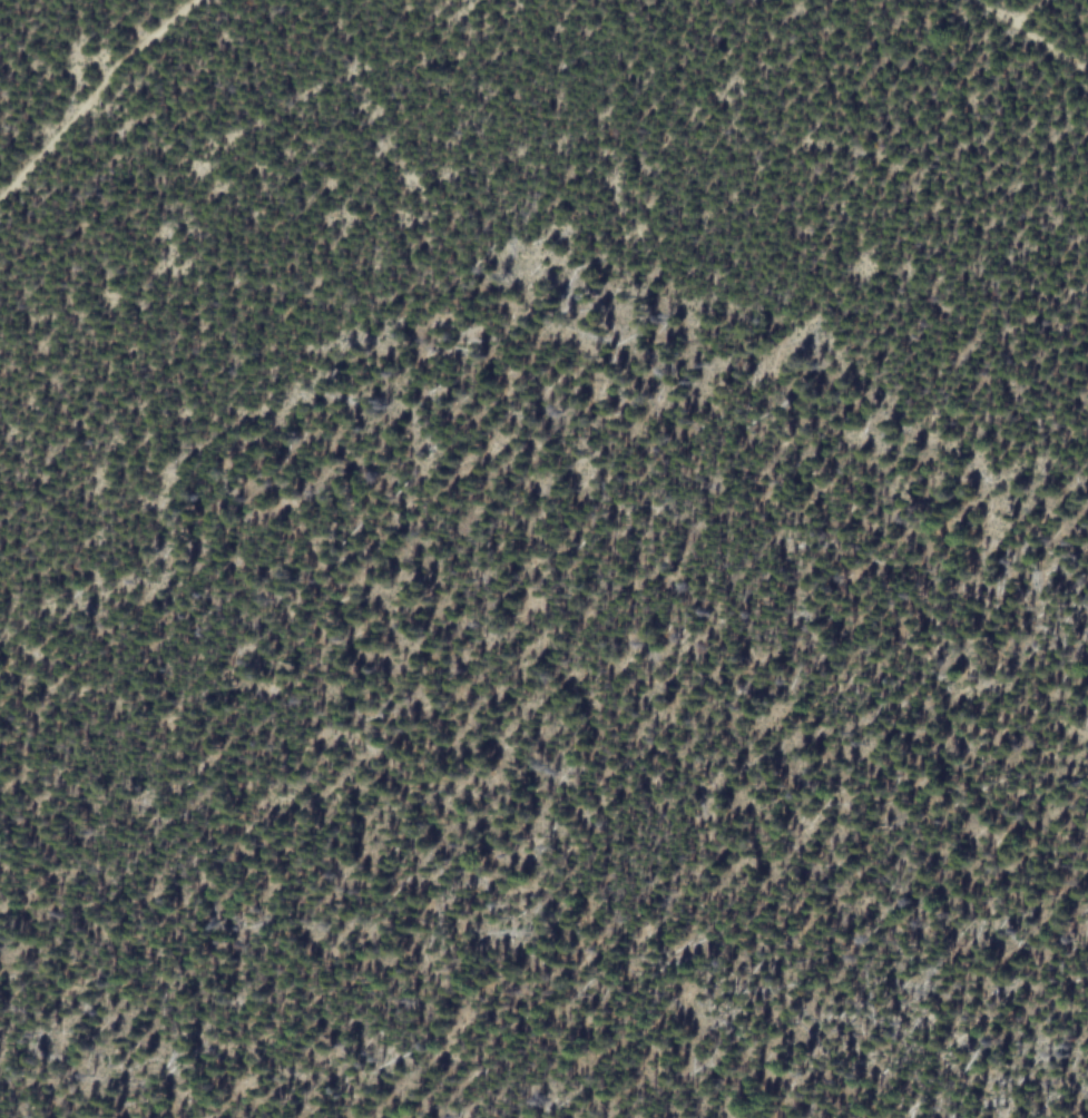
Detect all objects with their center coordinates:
road: (1031, 36)
road: (94, 99)

